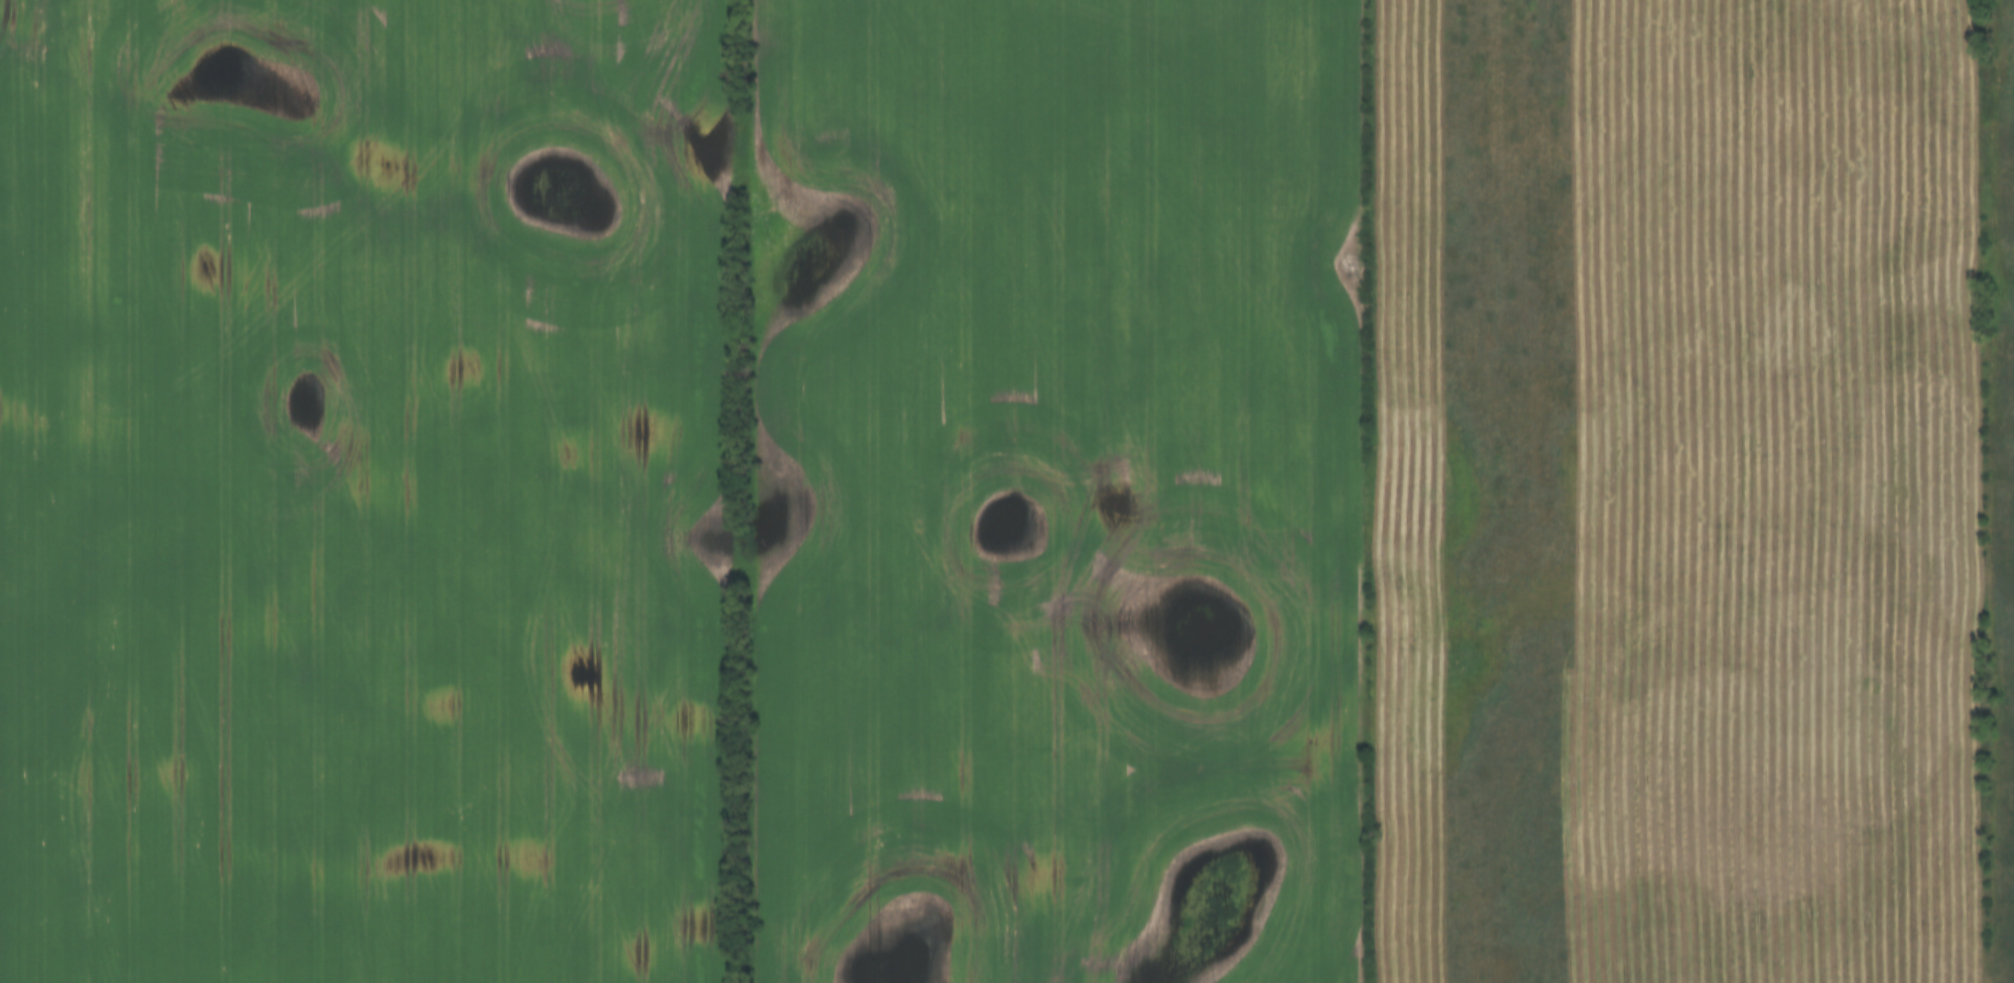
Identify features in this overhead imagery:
road: (1982, 491)

